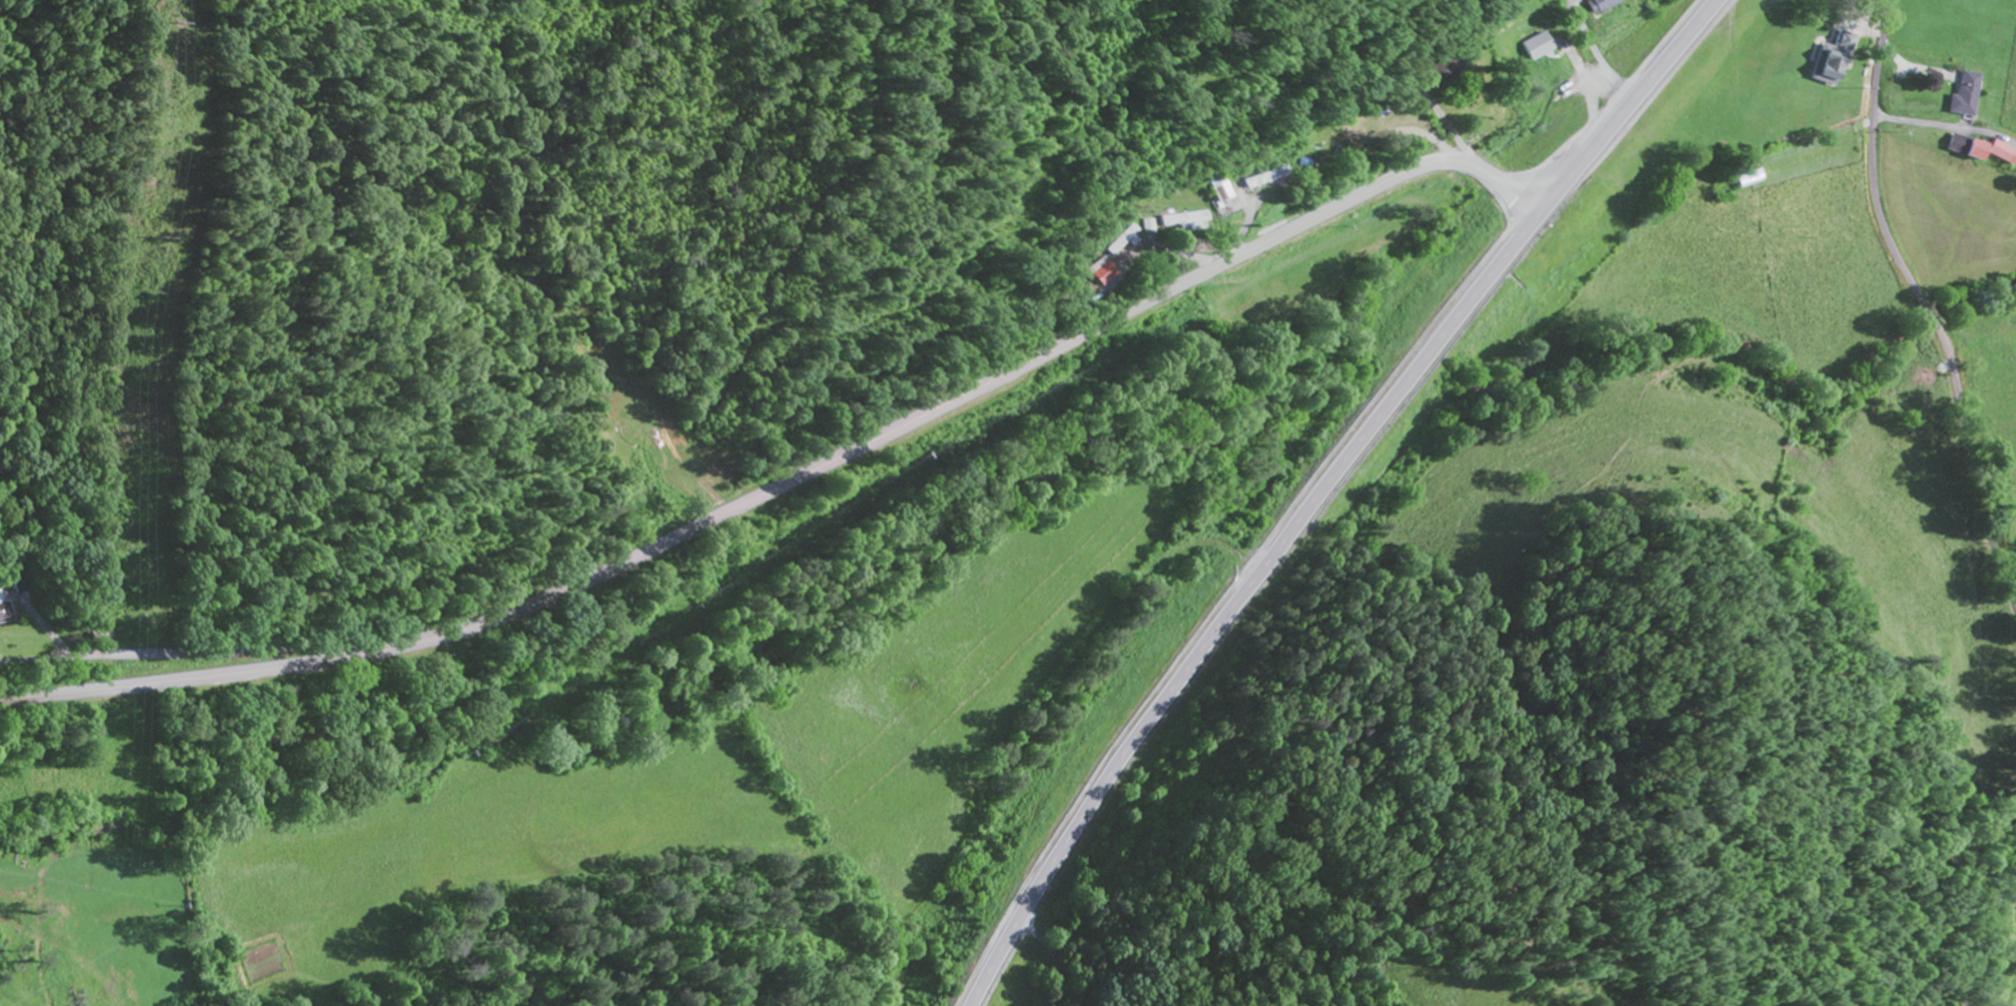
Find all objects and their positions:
building: (1604, 5)
building: (1543, 47)
building: (1833, 60)
building: (1448, 69)
building: (1966, 94)
building: (1375, 119)
building: (1982, 151)
building: (1267, 179)
building: (1753, 179)
building: (1185, 222)
building: (1118, 241)
building: (1099, 273)
road: (1924, 306)
road: (795, 480)
road: (1320, 488)
building: (5, 607)
building: (104, 636)
road: (189, 655)
road: (1989, 905)

